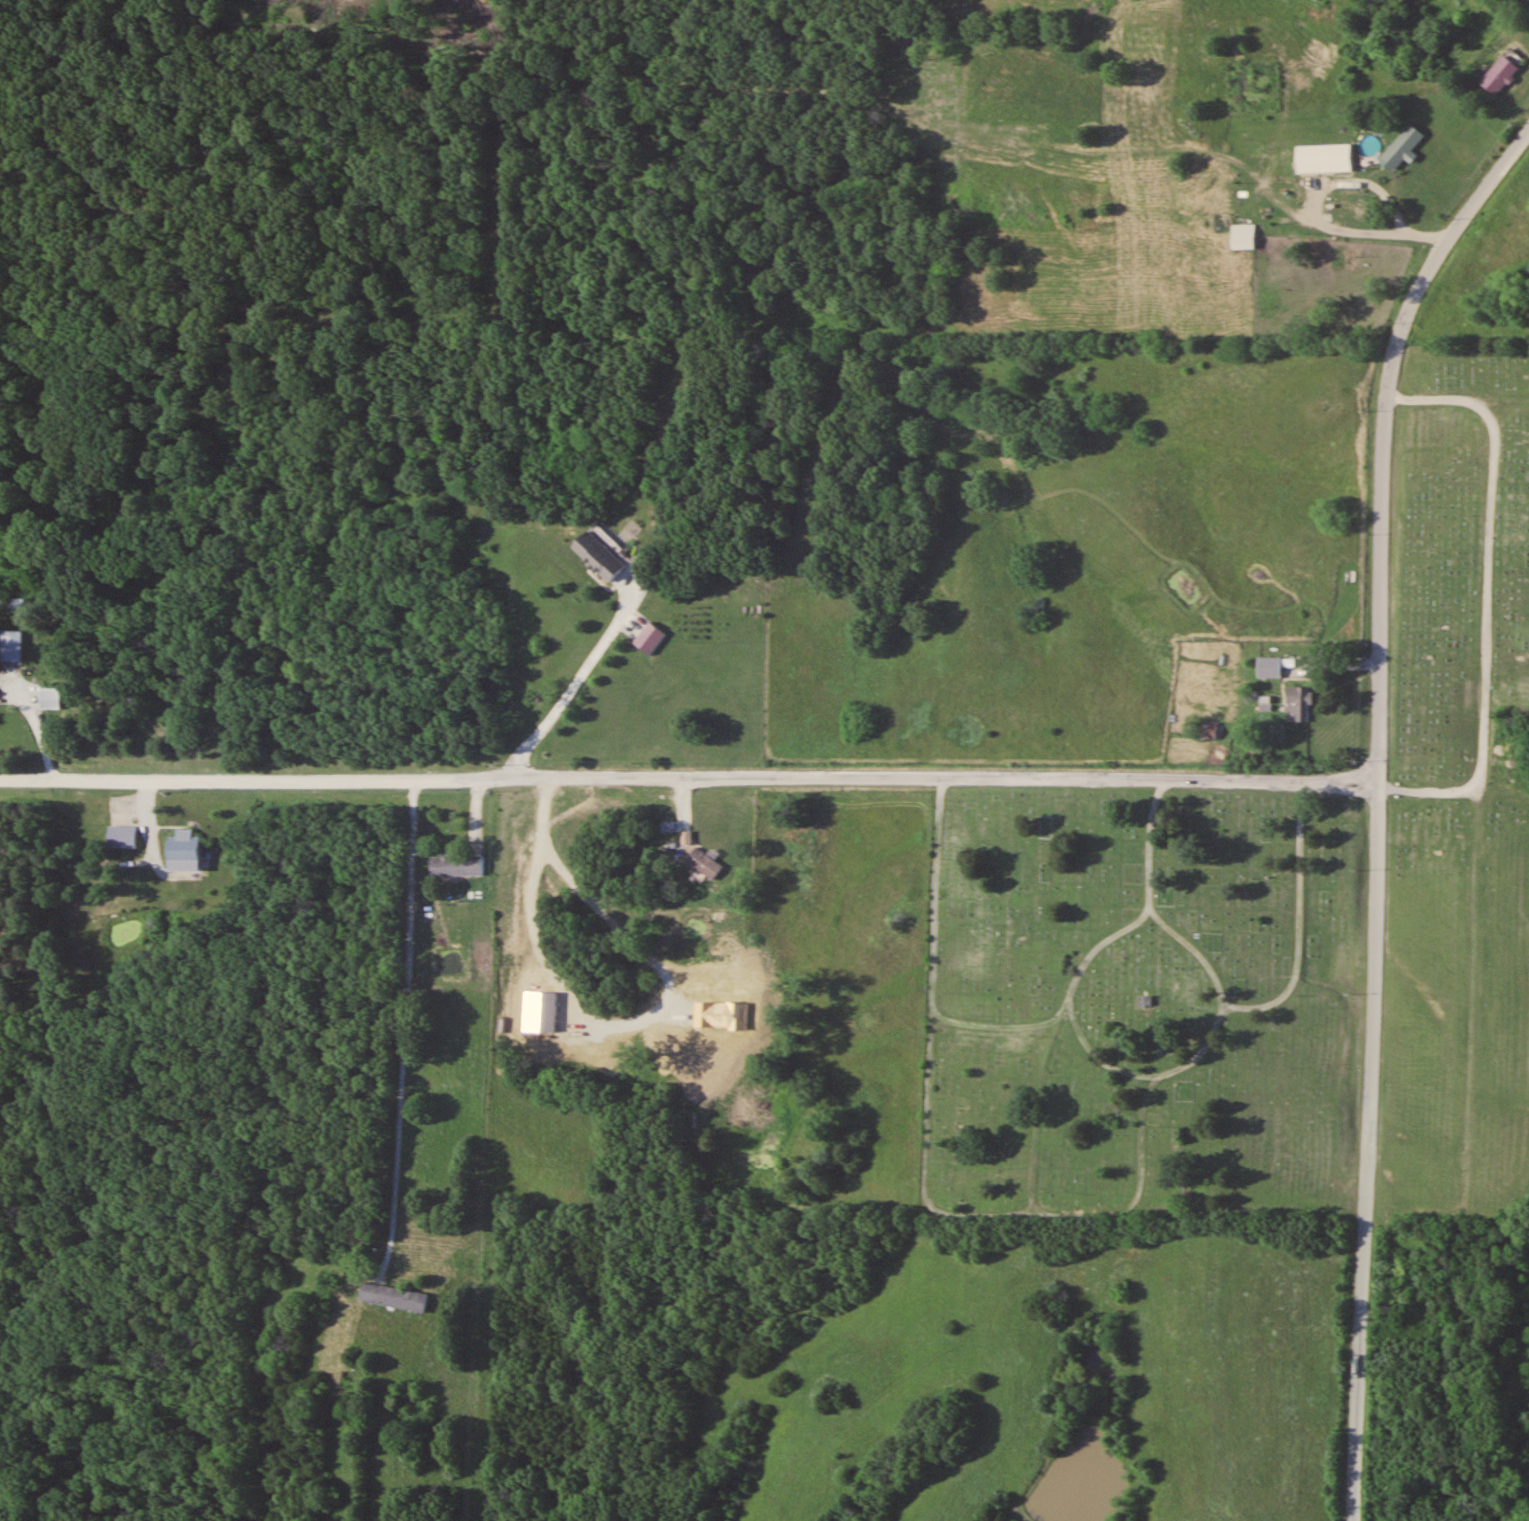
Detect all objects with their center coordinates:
building: (1499, 75)
building: (1400, 147)
building: (1331, 157)
building: (1342, 208)
building: (1248, 235)
building: (598, 555)
road: (1488, 594)
building: (21, 604)
building: (11, 646)
building: (1269, 667)
building: (49, 698)
building: (1299, 704)
building: (1208, 729)
road: (688, 775)
park: (1458, 797)
road: (1377, 806)
building: (121, 837)
building: (182, 851)
building: (704, 863)
building: (456, 865)
road: (1299, 922)
road: (1220, 994)
park: (1140, 1005)
building: (1144, 1005)
road: (996, 1026)
road: (1051, 1039)
road: (927, 1161)
building: (392, 1297)

